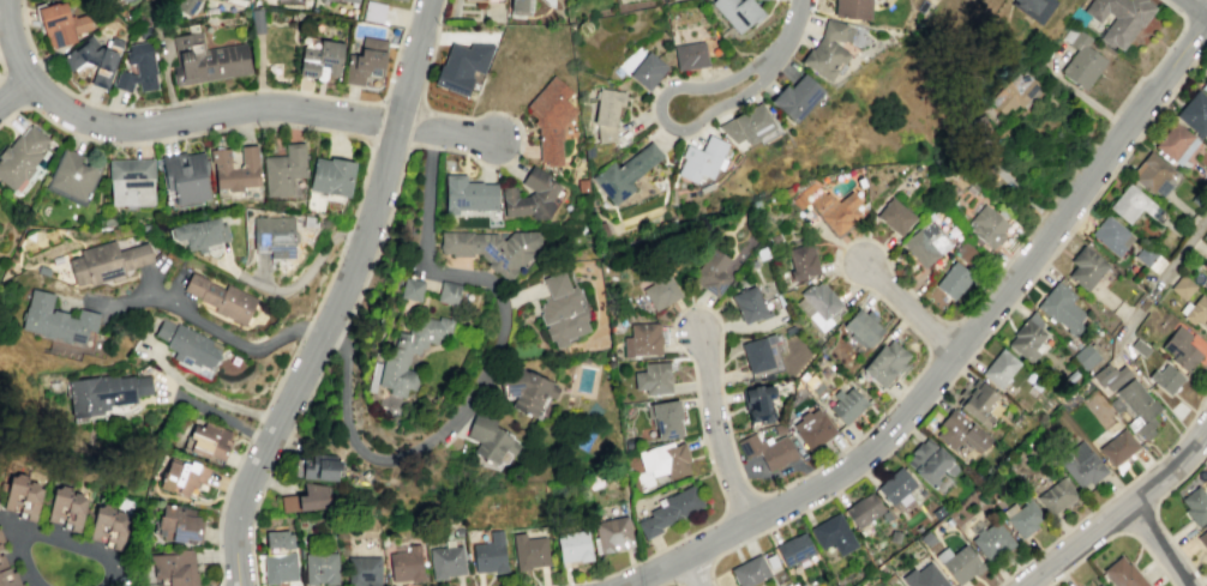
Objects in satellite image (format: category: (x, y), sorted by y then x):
building: (124, 0)
building: (328, 0)
building: (402, 0)
building: (485, 0)
building: (239, 1)
building: (352, 1)
building: (187, 5)
building: (517, 5)
building: (1033, 7)
building: (852, 8)
road: (1195, 8)
building: (376, 11)
building: (738, 12)
building: (1118, 18)
building: (258, 20)
building: (60, 23)
road: (803, 28)
road: (788, 34)
building: (828, 49)
building: (689, 55)
building: (96, 58)
building: (322, 58)
building: (206, 59)
building: (367, 59)
road: (412, 62)
building: (1082, 62)
building: (461, 65)
building: (138, 67)
road: (1, 68)
building: (647, 71)
road: (259, 73)
road: (167, 78)
building: (1205, 81)
road: (14, 89)
road: (260, 89)
road: (65, 90)
road: (13, 91)
building: (1016, 92)
road: (216, 95)
building: (794, 96)
road: (376, 101)
road: (172, 103)
building: (606, 113)
building: (1194, 113)
road: (476, 115)
road: (660, 116)
building: (550, 117)
road: (164, 122)
road: (413, 123)
road: (656, 123)
road: (376, 125)
building: (749, 125)
road: (221, 129)
road: (446, 132)
building: (978, 132)
building: (1175, 143)
road: (428, 145)
building: (20, 157)
building: (701, 158)
building: (236, 169)
building: (283, 169)
building: (625, 171)
building: (1149, 171)
building: (74, 176)
building: (186, 176)
building: (331, 176)
building: (132, 182)
building: (468, 194)
building: (529, 195)
building: (1134, 205)
building: (829, 207)
building: (895, 216)
building: (989, 226)
building: (199, 232)
road: (347, 234)
building: (275, 235)
building: (1110, 235)
building: (1206, 236)
building: (926, 244)
building: (492, 248)
building: (967, 253)
building: (1148, 258)
building: (801, 260)
building: (106, 261)
building: (1206, 265)
building: (1085, 267)
building: (711, 272)
road: (262, 273)
road: (328, 280)
building: (954, 280)
road: (1160, 280)
road: (149, 282)
road: (298, 282)
building: (1183, 286)
road: (174, 289)
building: (410, 289)
building: (661, 290)
building: (448, 292)
building: (221, 297)
building: (749, 304)
building: (817, 304)
road: (1116, 304)
road: (908, 307)
building: (1061, 308)
building: (562, 310)
building: (1197, 310)
building: (58, 320)
building: (861, 328)
road: (305, 330)
road: (937, 333)
building: (1027, 338)
building: (642, 339)
building: (188, 343)
road: (957, 344)
road: (980, 344)
building: (1140, 348)
building: (1183, 349)
road: (307, 355)
building: (1086, 355)
building: (761, 356)
building: (401, 358)
road: (326, 362)
building: (884, 363)
building: (998, 368)
road: (282, 374)
building: (1110, 375)
building: (653, 377)
building: (1166, 379)
building: (524, 388)
building: (107, 394)
road: (204, 394)
building: (758, 401)
building: (975, 401)
building: (846, 404)
building: (1139, 409)
road: (211, 411)
road: (262, 415)
road: (882, 415)
building: (663, 418)
road: (257, 424)
building: (813, 428)
road: (719, 429)
building: (960, 431)
road: (252, 434)
building: (488, 436)
building: (208, 437)
building: (1117, 447)
building: (765, 449)
road: (398, 457)
building: (929, 460)
building: (661, 463)
building: (319, 466)
building: (1082, 469)
building: (186, 472)
building: (894, 485)
building: (13, 491)
building: (1056, 495)
road: (1110, 495)
building: (304, 499)
building: (29, 501)
road: (740, 501)
building: (58, 503)
building: (1195, 506)
building: (669, 508)
road: (220, 509)
building: (861, 509)
road: (1118, 511)
building: (73, 512)
road: (1155, 514)
building: (1025, 518)
road: (1140, 519)
building: (98, 521)
building: (176, 522)
building: (115, 530)
building: (458, 531)
building: (612, 533)
building: (833, 533)
road: (1112, 533)
road: (48, 534)
building: (1202, 538)
building: (1, 540)
building: (991, 540)
road: (1157, 544)
building: (574, 545)
building: (793, 549)
building: (529, 551)
building: (491, 554)
building: (275, 558)
building: (446, 561)
building: (406, 563)
building: (961, 564)
building: (173, 566)
building: (320, 567)
building: (362, 570)
building: (749, 570)
road: (693, 572)
building: (1122, 574)
building: (7, 575)
building: (923, 576)
road: (668, 582)
building: (1080, 585)
building: (1099, 585)

